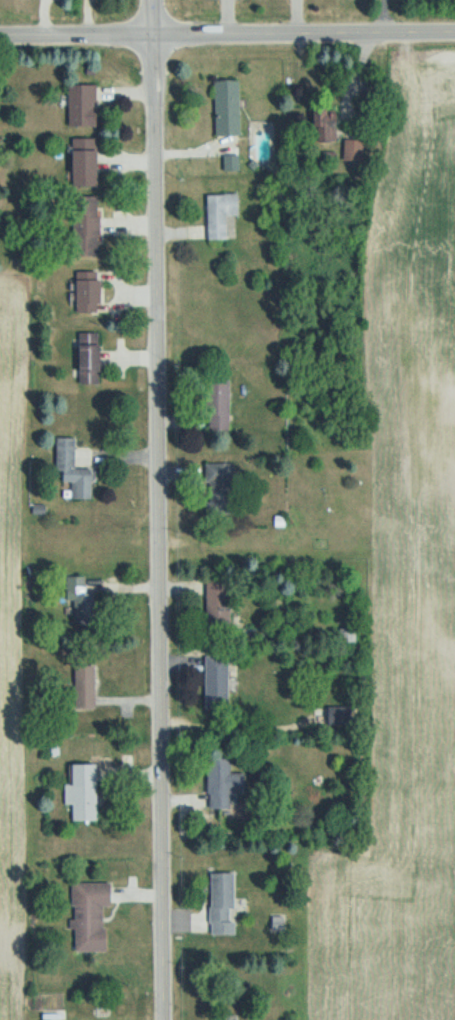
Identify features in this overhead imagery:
road: (227, 33)
building: (83, 105)
building: (228, 108)
building: (356, 150)
building: (86, 162)
building: (221, 214)
building: (87, 226)
building: (90, 293)
building: (91, 359)
building: (219, 408)
building: (74, 470)
building: (221, 489)
road: (157, 509)
building: (82, 599)
crop: (404, 601)
building: (221, 604)
crop: (17, 661)
building: (219, 682)
building: (87, 687)
building: (340, 716)
building: (225, 784)
building: (86, 793)
building: (224, 904)
building: (92, 916)
building: (226, 1017)

